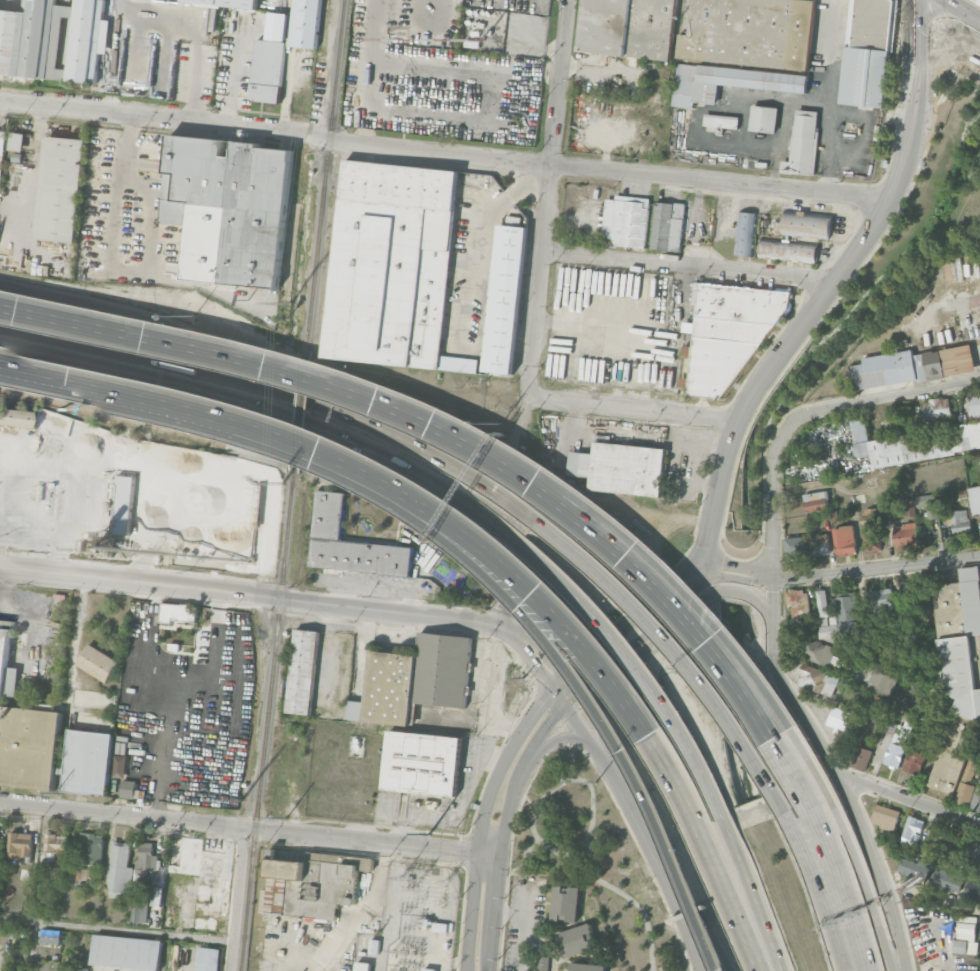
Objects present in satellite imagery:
building: (227, 3)
road: (959, 11)
building: (305, 23)
road: (829, 27)
building: (628, 28)
road: (944, 28)
road: (193, 33)
building: (750, 33)
building: (54, 40)
road: (913, 44)
road: (978, 48)
road: (978, 51)
building: (867, 53)
road: (939, 59)
building: (270, 60)
road: (325, 67)
building: (727, 82)
road: (138, 114)
building: (763, 119)
building: (721, 121)
building: (17, 142)
building: (803, 143)
road: (32, 155)
building: (1, 156)
road: (583, 170)
railway: (324, 175)
building: (60, 189)
road: (548, 199)
road: (12, 204)
building: (229, 208)
building: (630, 220)
building: (807, 224)
building: (669, 225)
building: (746, 233)
road: (473, 235)
road: (31, 242)
building: (788, 250)
building: (391, 263)
road: (687, 268)
road: (110, 269)
building: (504, 300)
power tower: (289, 302)
road: (805, 320)
building: (730, 333)
road: (152, 341)
road: (28, 348)
road: (247, 358)
road: (151, 362)
building: (911, 366)
road: (874, 400)
building: (974, 406)
road: (180, 408)
building: (937, 409)
road: (632, 411)
railway: (299, 412)
building: (14, 418)
road: (300, 421)
building: (924, 444)
road: (315, 450)
road: (424, 451)
building: (628, 468)
power tower: (281, 481)
building: (814, 500)
building: (974, 500)
building: (928, 504)
road: (771, 506)
building: (909, 507)
building: (871, 515)
building: (957, 519)
building: (905, 534)
building: (845, 539)
building: (872, 542)
building: (352, 543)
building: (820, 544)
building: (796, 546)
road: (659, 564)
road: (739, 564)
road: (705, 568)
road: (876, 569)
road: (645, 576)
road: (738, 577)
road: (378, 587)
road: (255, 595)
building: (918, 597)
building: (798, 602)
building: (822, 602)
building: (881, 602)
building: (177, 612)
building: (848, 613)
road: (558, 616)
road: (625, 618)
building: (807, 627)
building: (827, 632)
road: (639, 635)
road: (657, 639)
road: (668, 645)
building: (817, 650)
road: (546, 655)
road: (529, 658)
building: (6, 662)
building: (98, 663)
traffic signals: (573, 665)
road: (638, 668)
building: (441, 670)
building: (958, 671)
building: (303, 672)
traffic signals: (542, 675)
building: (818, 679)
building: (879, 682)
road: (581, 687)
building: (137, 689)
building: (387, 689)
road: (557, 695)
road: (568, 698)
building: (878, 707)
traffic signals: (550, 718)
building: (837, 718)
railway: (267, 721)
building: (922, 725)
road: (586, 735)
road: (559, 739)
building: (898, 744)
building: (29, 747)
building: (862, 757)
road: (570, 758)
building: (915, 761)
building: (88, 762)
building: (423, 763)
road: (836, 772)
road: (474, 775)
road: (556, 784)
building: (966, 785)
building: (128, 789)
road: (620, 791)
power tower: (61, 793)
road: (524, 798)
building: (977, 798)
road: (911, 799)
power tower: (237, 800)
building: (886, 816)
power tower: (287, 818)
road: (420, 819)
road: (482, 820)
road: (249, 827)
building: (912, 828)
road: (502, 829)
power tower: (429, 834)
building: (943, 837)
building: (20, 844)
building: (54, 845)
road: (853, 845)
building: (90, 846)
road: (829, 851)
building: (973, 853)
building: (146, 859)
park: (593, 859)
road: (523, 861)
building: (119, 867)
building: (914, 869)
building: (206, 871)
building: (82, 874)
building: (947, 880)
road: (810, 881)
building: (312, 884)
building: (138, 887)
building: (972, 890)
road: (670, 892)
road: (681, 892)
road: (755, 893)
building: (157, 896)
road: (236, 898)
road: (728, 899)
road: (933, 901)
building: (566, 902)
road: (641, 909)
building: (139, 912)
road: (509, 914)
road: (360, 920)
power substation: (412, 921)
building: (322, 925)
road: (523, 926)
building: (439, 927)
building: (967, 927)
road: (116, 932)
building: (50, 936)
building: (577, 939)
building: (373, 946)
building: (960, 946)
building: (126, 952)
building: (55, 957)
building: (207, 959)
road: (458, 963)
building: (542, 963)
building: (361, 966)
building: (587, 966)
building: (427, 969)

